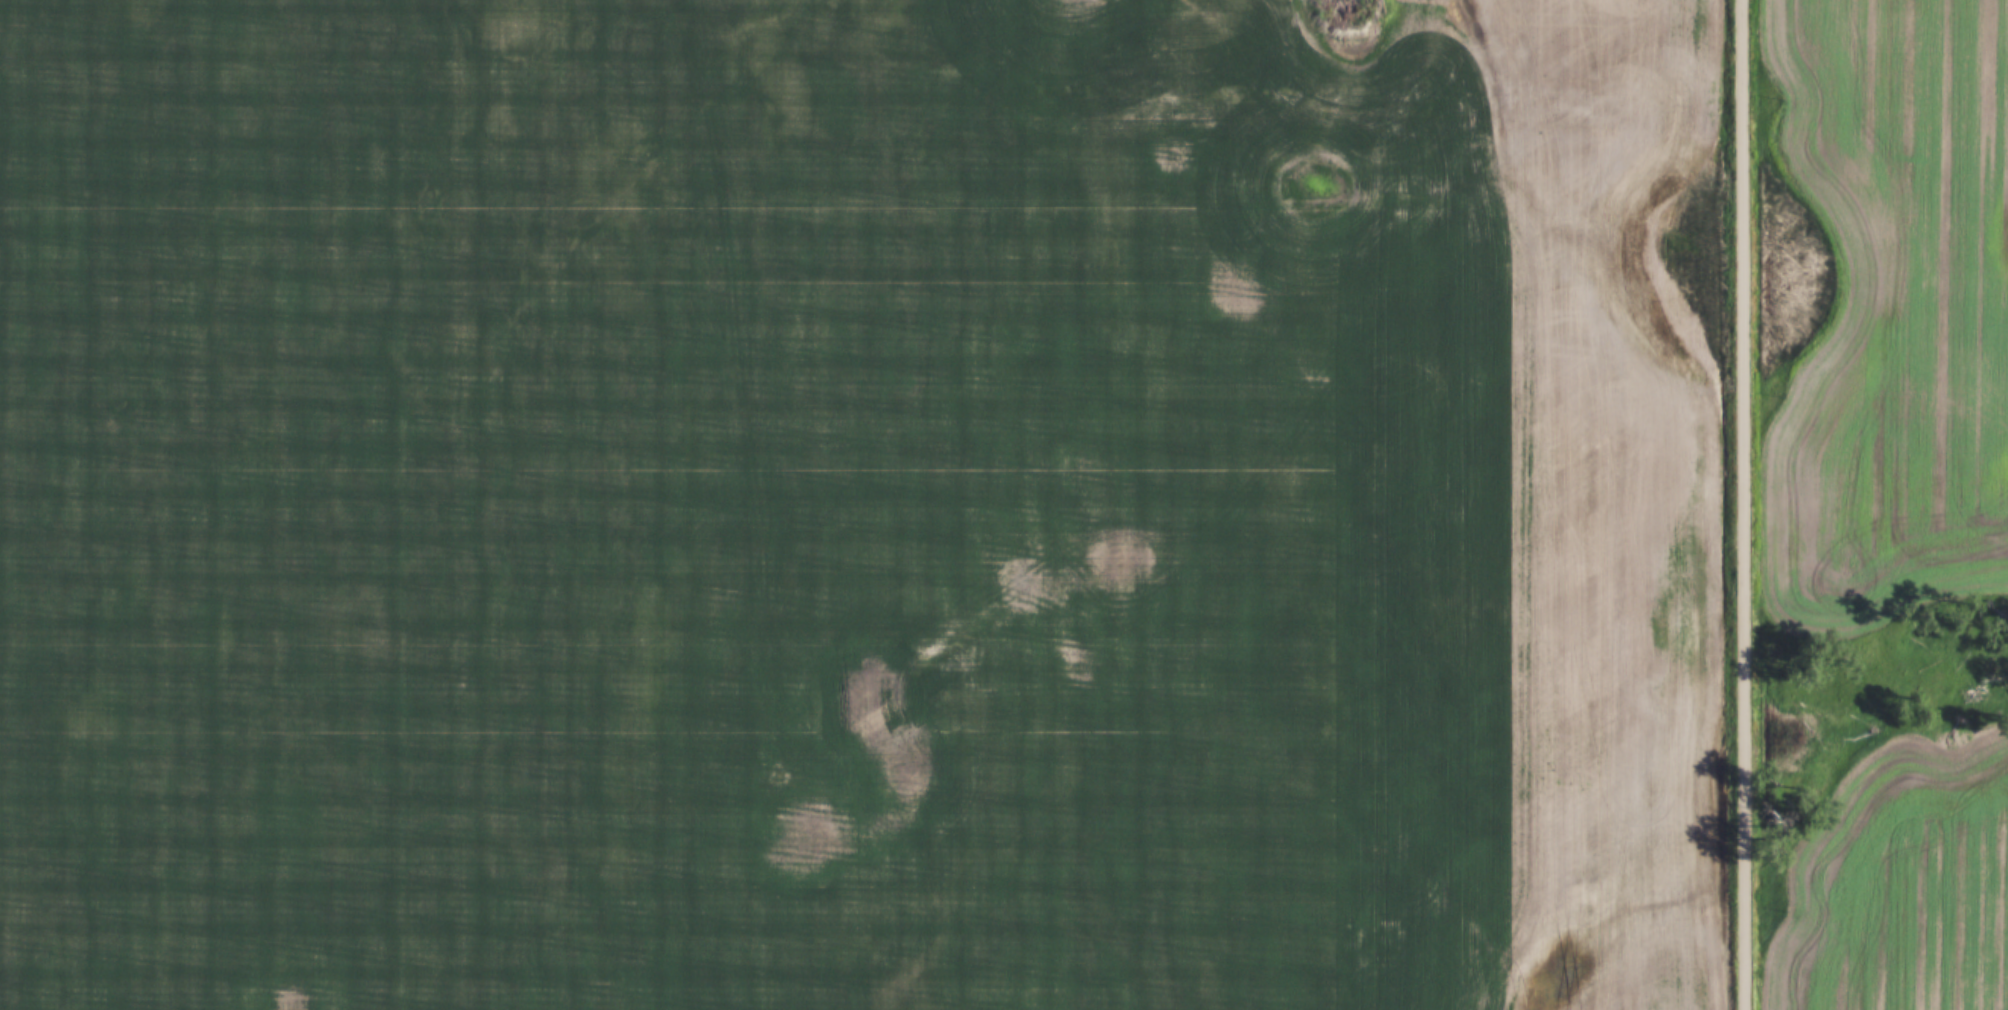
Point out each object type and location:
road: (1747, 504)

